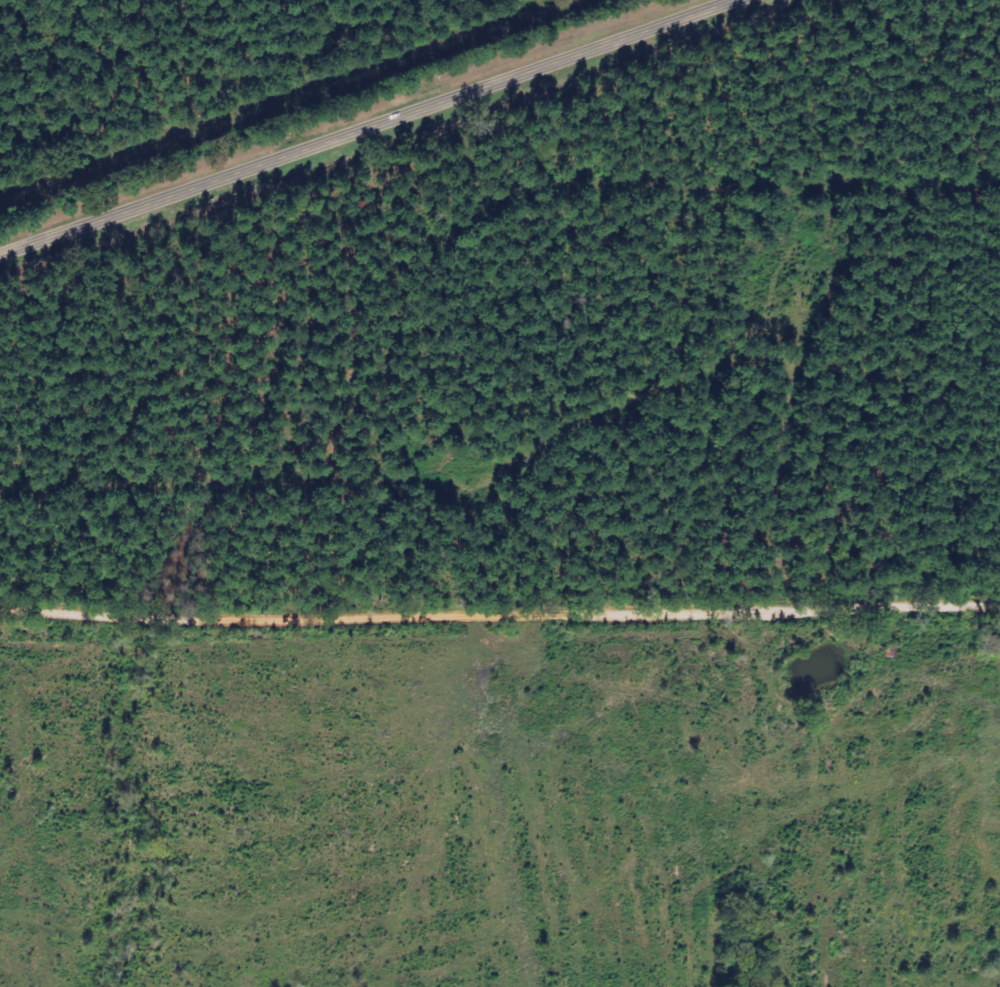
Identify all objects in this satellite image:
road: (368, 128)
road: (499, 626)

